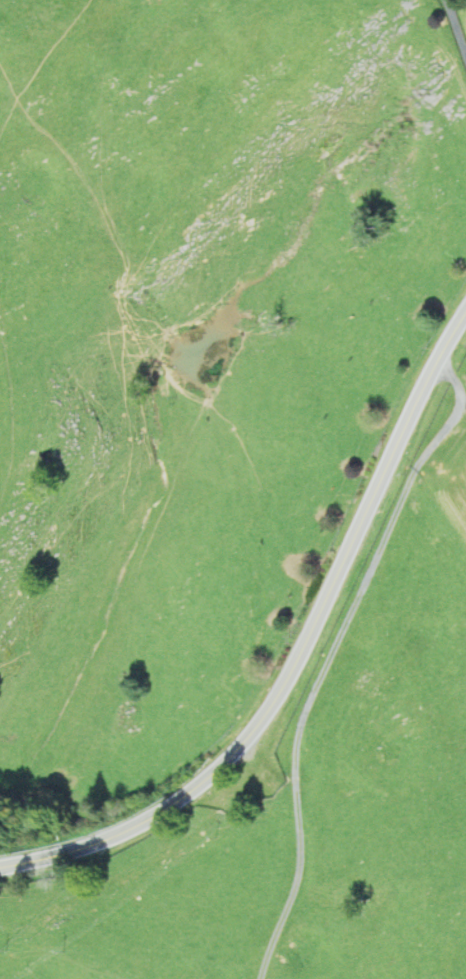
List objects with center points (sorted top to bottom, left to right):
road: (455, 30)
road: (452, 384)
road: (298, 657)
road: (320, 678)

